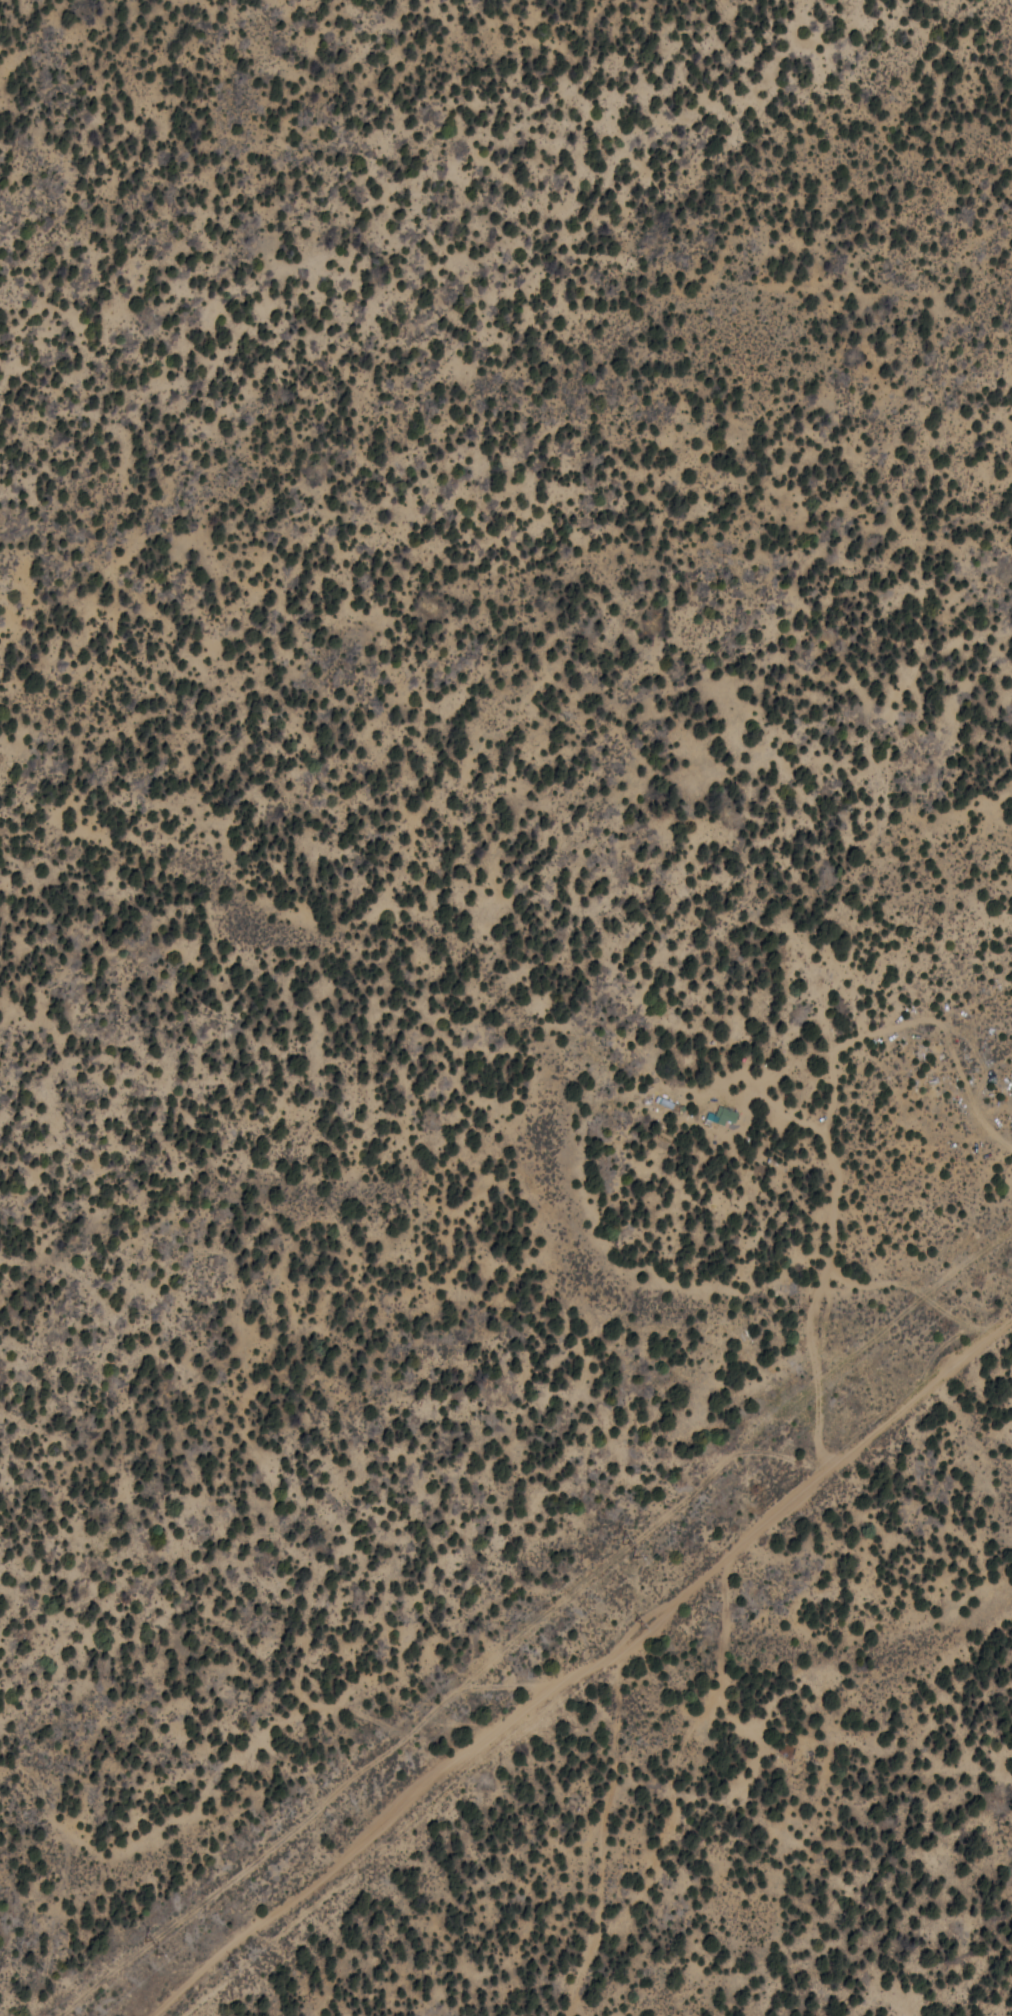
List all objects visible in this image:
power tower: (621, 1552)
power tower: (645, 1625)
road: (555, 1634)
power tower: (147, 1947)
power tower: (232, 1963)

